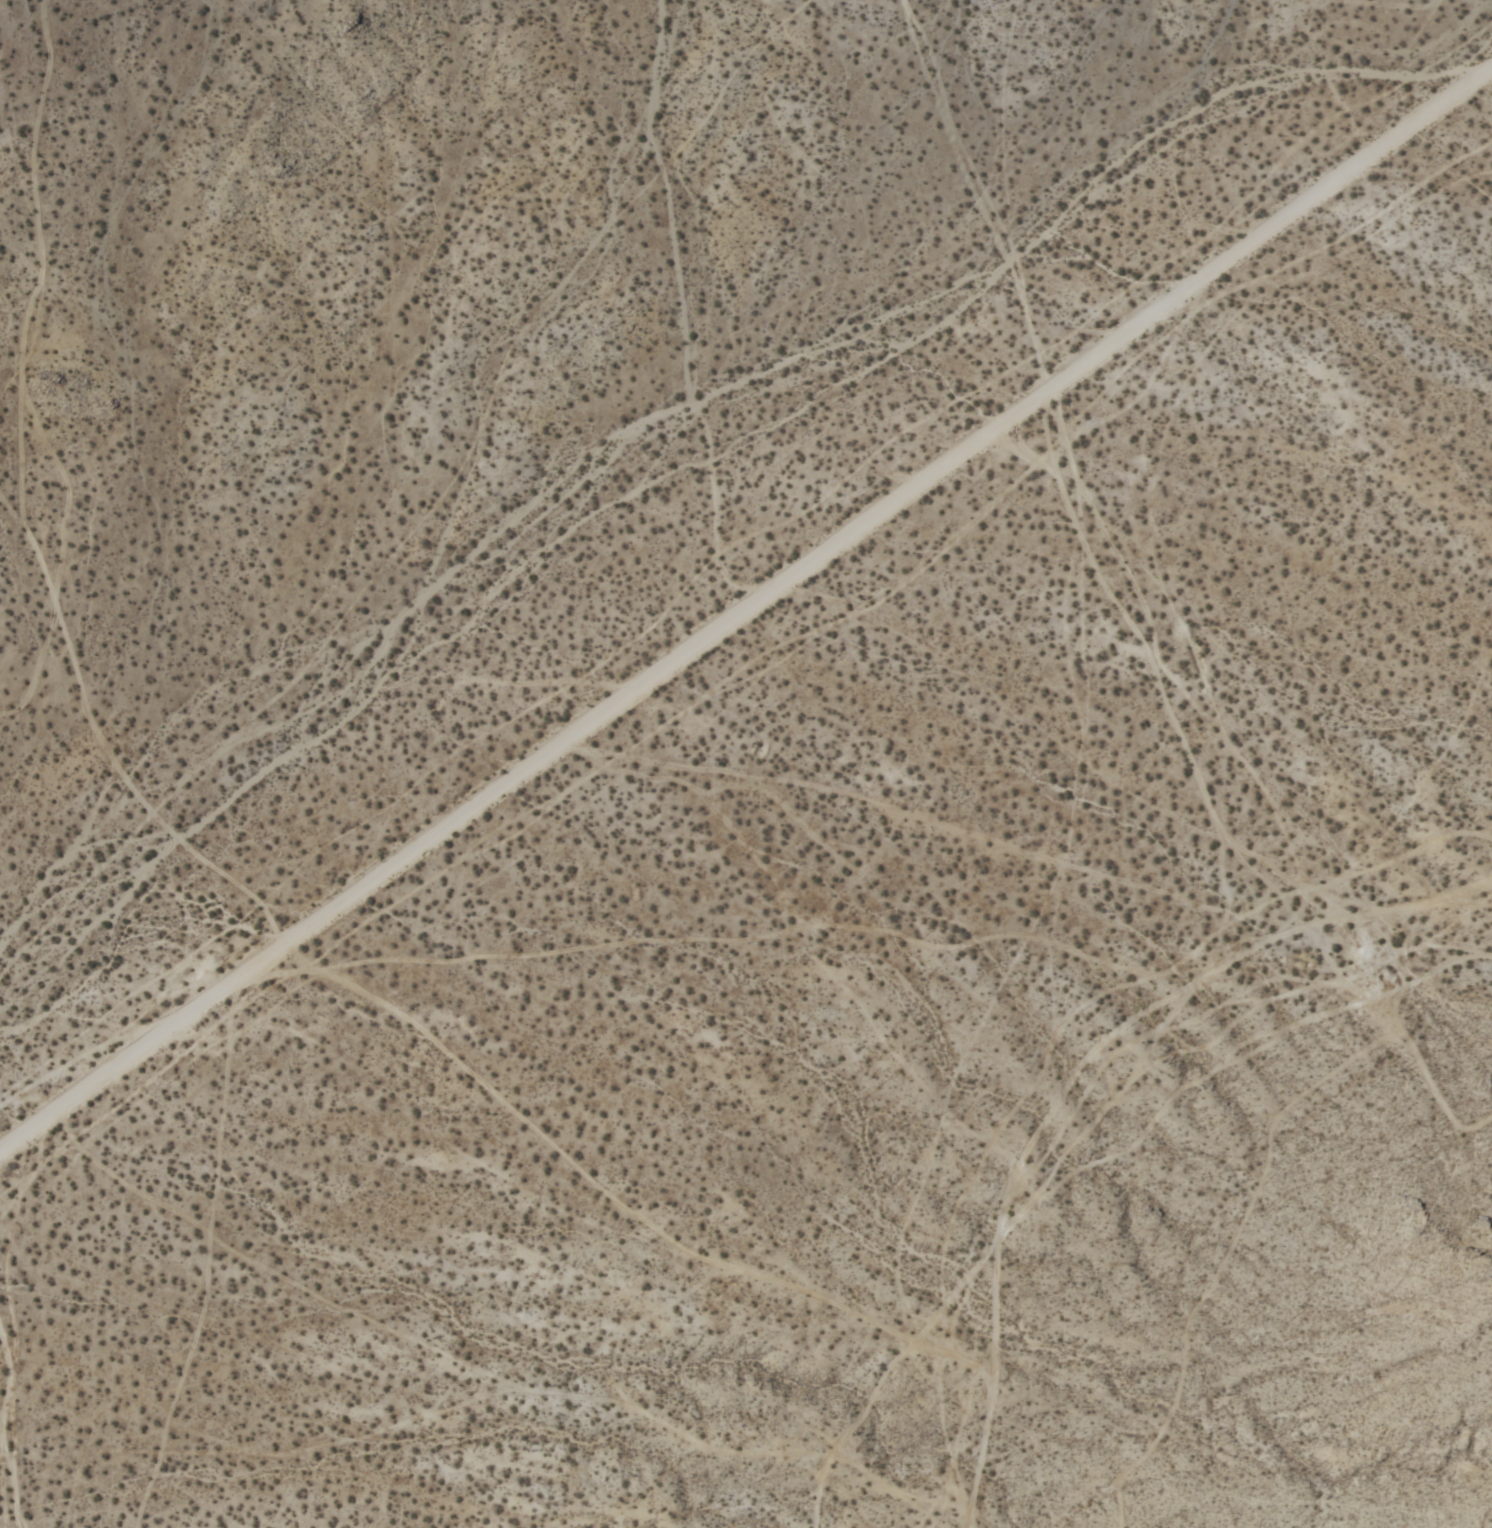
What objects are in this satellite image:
road: (745, 612)

